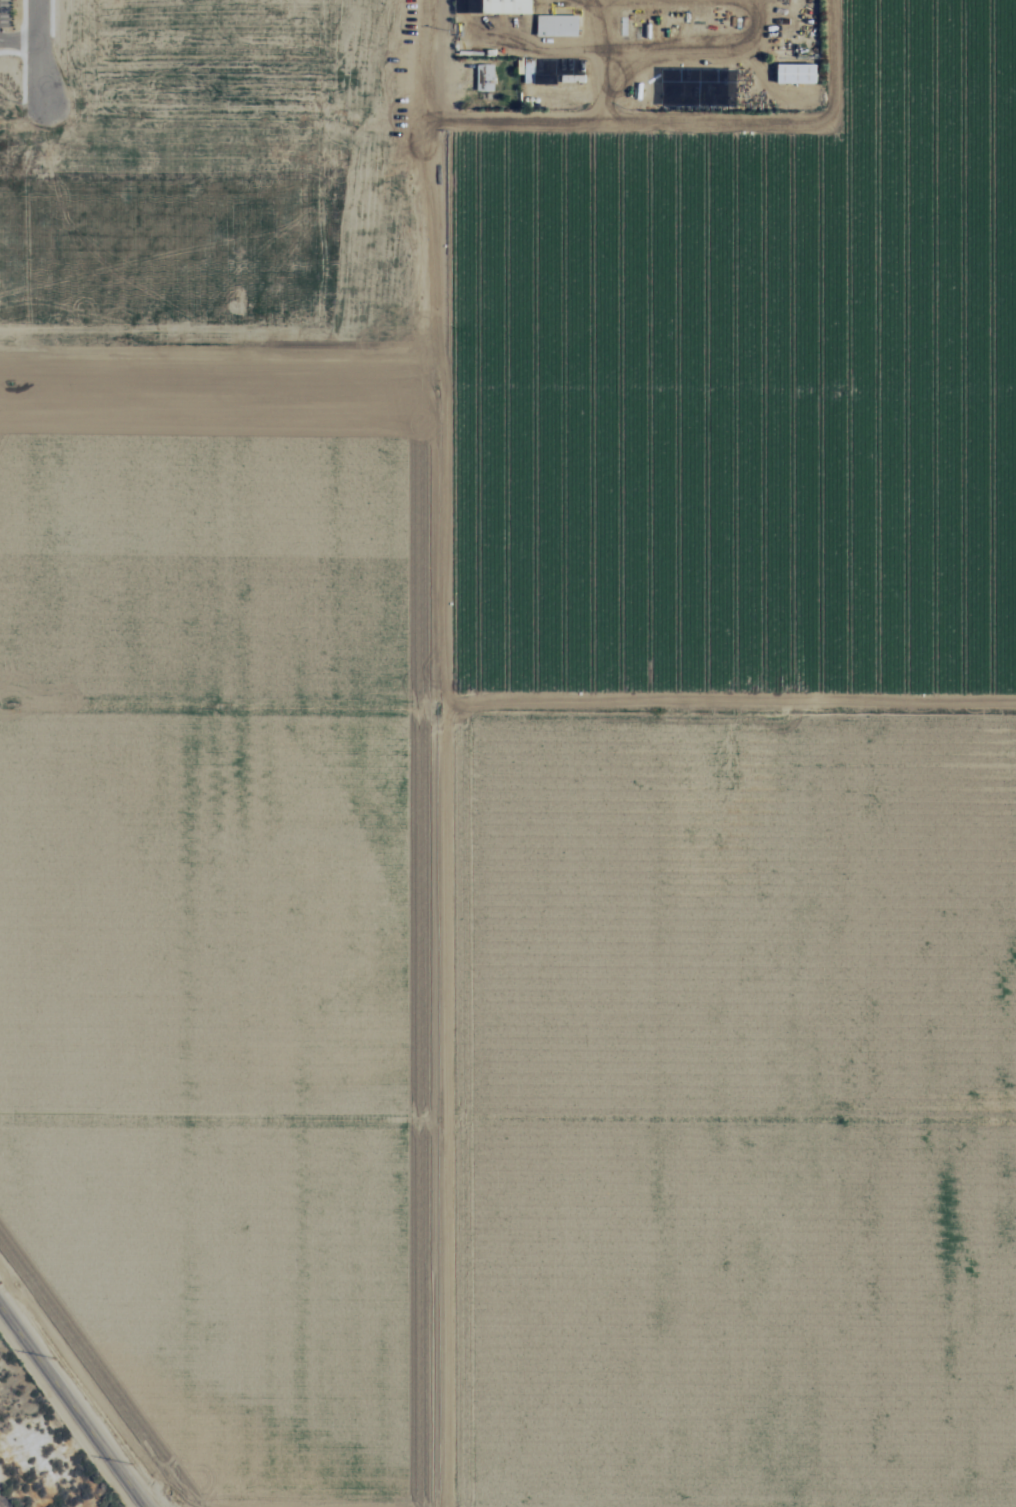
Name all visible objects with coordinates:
building: (468, 6)
building: (506, 6)
parking lot: (4, 11)
road: (52, 18)
building: (557, 25)
road: (19, 38)
road: (22, 49)
road: (11, 50)
road: (39, 50)
building: (796, 72)
building: (551, 75)
building: (484, 76)
road: (694, 125)
road: (507, 381)
road: (508, 699)
road: (443, 753)
crop: (543, 834)
road: (508, 1111)
road: (84, 1390)
road: (73, 1406)

